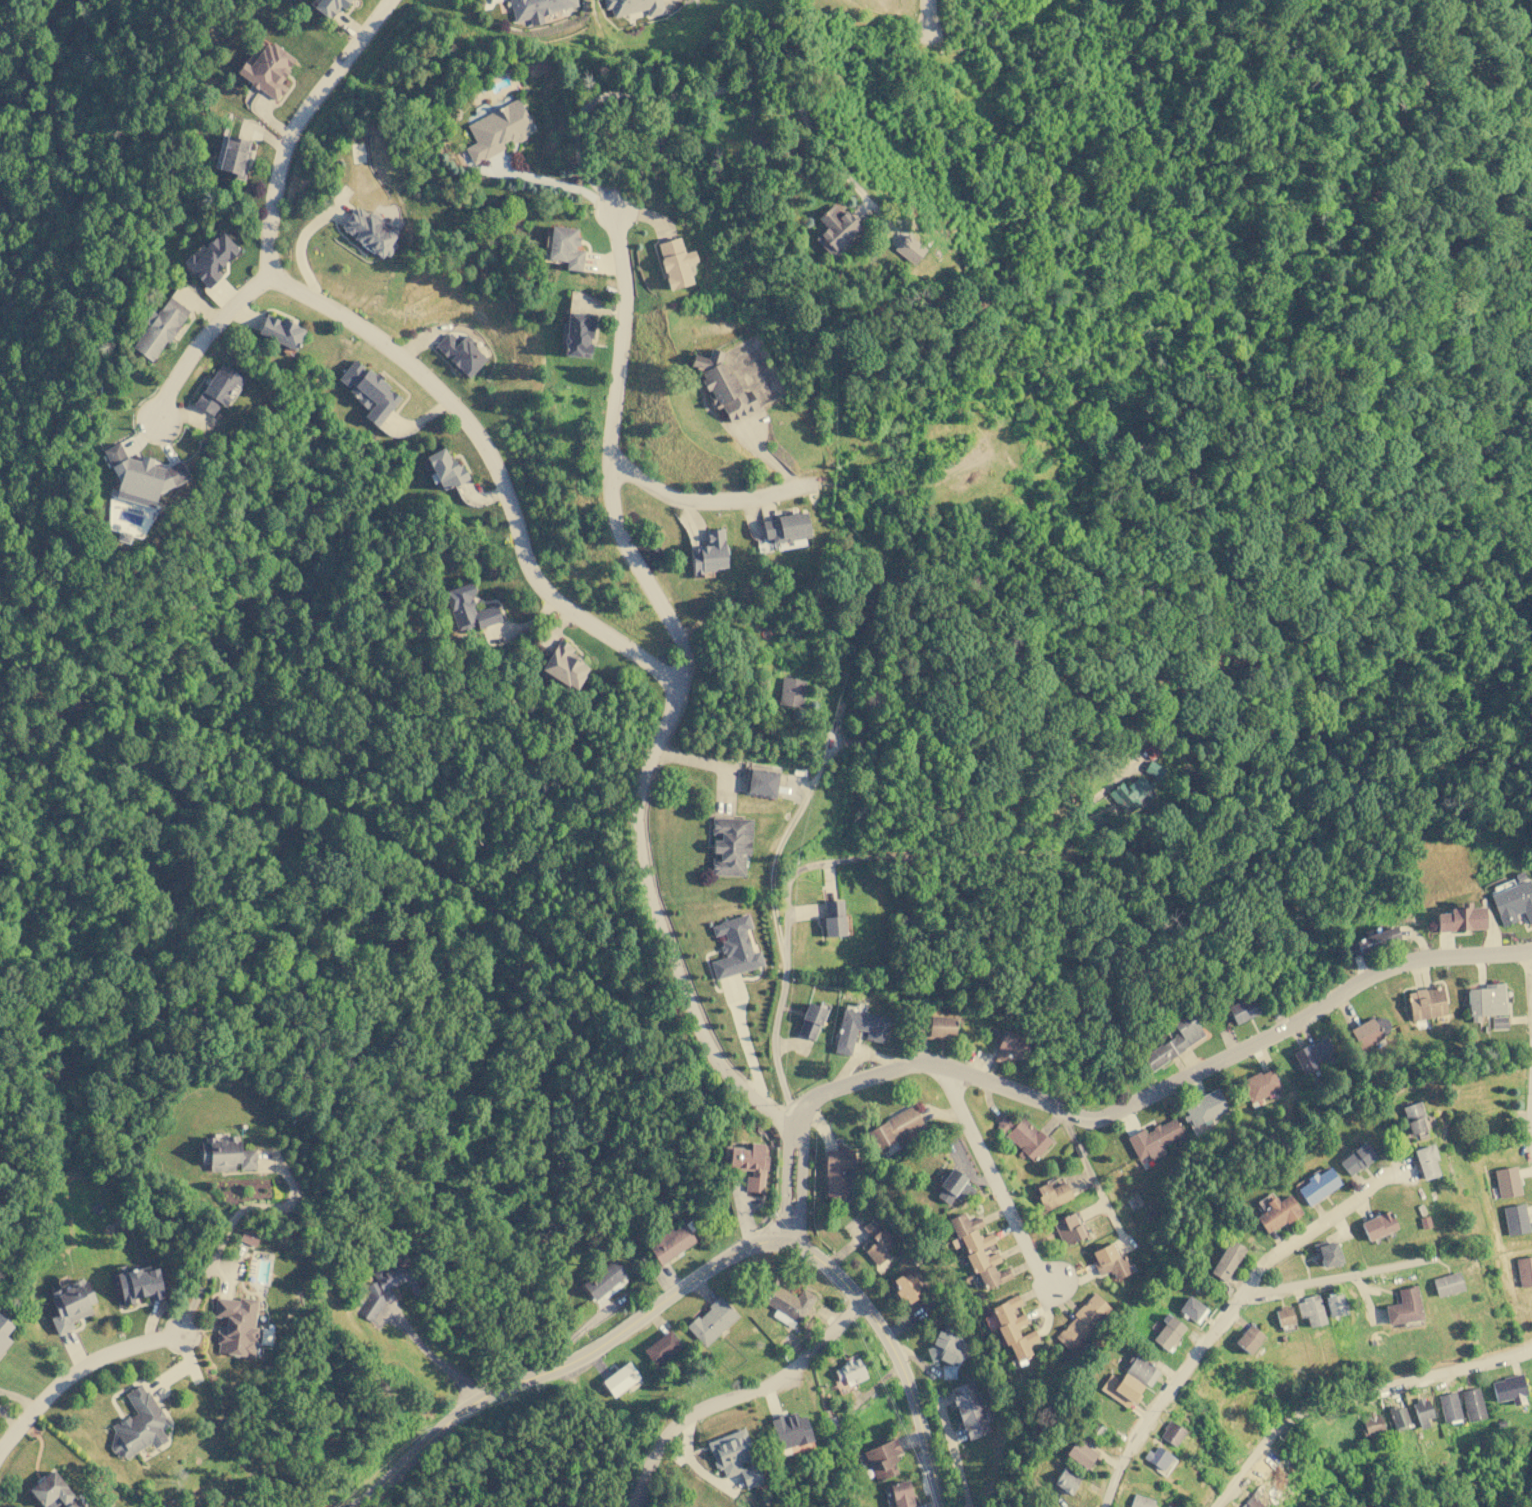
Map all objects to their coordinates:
building: (328, 6)
building: (633, 6)
building: (537, 8)
road: (931, 9)
building: (267, 70)
road: (700, 100)
building: (497, 130)
building: (234, 156)
building: (369, 230)
building: (835, 230)
building: (564, 246)
building: (209, 259)
building: (675, 262)
building: (158, 328)
building: (280, 331)
building: (577, 334)
road: (207, 344)
building: (460, 353)
road: (395, 354)
building: (722, 385)
building: (217, 388)
building: (368, 391)
building: (444, 469)
building: (140, 475)
road: (711, 508)
building: (784, 527)
building: (708, 552)
building: (467, 608)
building: (563, 665)
building: (790, 691)
road: (665, 738)
building: (1152, 768)
building: (761, 782)
building: (1128, 792)
building: (729, 844)
building: (1513, 902)
building: (832, 918)
building: (1461, 918)
road: (782, 939)
building: (1370, 941)
building: (734, 947)
road: (1530, 975)
building: (1485, 1000)
building: (1425, 1003)
building: (1243, 1009)
building: (810, 1020)
building: (1498, 1022)
building: (936, 1026)
building: (858, 1028)
building: (1365, 1033)
building: (1174, 1041)
building: (1008, 1045)
building: (1313, 1054)
building: (1259, 1084)
road: (1155, 1090)
building: (1204, 1107)
road: (1529, 1116)
building: (1414, 1118)
building: (893, 1129)
building: (1021, 1135)
building: (1154, 1138)
building: (225, 1153)
building: (1356, 1158)
building: (1425, 1160)
building: (748, 1163)
building: (837, 1170)
road: (1092, 1176)
road: (991, 1178)
building: (1506, 1181)
building: (1317, 1185)
building: (953, 1187)
building: (1051, 1194)
road: (256, 1206)
building: (1276, 1211)
building: (1515, 1218)
building: (1377, 1225)
road: (1312, 1228)
building: (1067, 1229)
building: (248, 1237)
building: (877, 1241)
building: (671, 1243)
building: (977, 1250)
building: (1326, 1253)
building: (1226, 1260)
building: (1110, 1261)
building: (1524, 1270)
building: (603, 1279)
building: (138, 1283)
building: (1447, 1283)
building: (387, 1287)
building: (906, 1287)
road: (194, 1302)
building: (785, 1302)
building: (69, 1303)
building: (1334, 1304)
building: (1403, 1306)
building: (1191, 1308)
building: (1310, 1309)
road: (1223, 1315)
building: (1283, 1315)
building: (711, 1321)
building: (1082, 1322)
building: (235, 1325)
building: (1013, 1328)
building: (4, 1332)
building: (1167, 1332)
building: (1248, 1338)
building: (948, 1346)
building: (661, 1347)
road: (896, 1355)
road: (562, 1360)
building: (1140, 1370)
road: (75, 1371)
building: (850, 1371)
building: (620, 1379)
building: (1121, 1388)
building: (1508, 1389)
road: (1352, 1394)
road: (736, 1397)
building: (1472, 1403)
building: (1448, 1406)
building: (968, 1409)
building: (1421, 1411)
building: (1397, 1416)
building: (1371, 1423)
building: (137, 1424)
building: (790, 1430)
building: (1171, 1432)
building: (1080, 1454)
building: (734, 1457)
building: (1158, 1457)
building: (881, 1458)
building: (1066, 1480)
building: (53, 1491)
building: (897, 1494)
building: (1140, 1501)
building: (1252, 1503)

